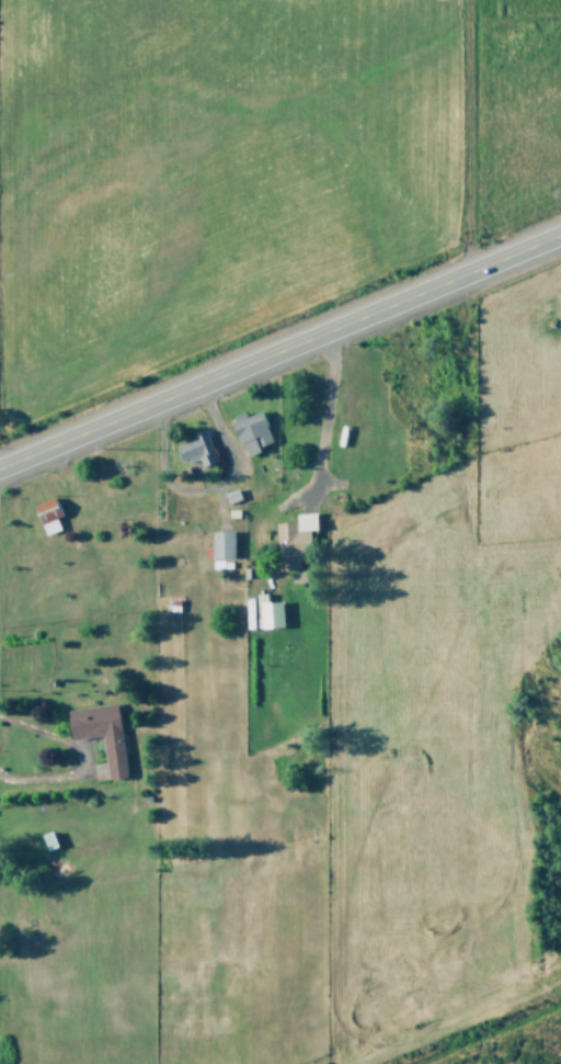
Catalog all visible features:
road: (280, 349)
road: (323, 411)
building: (250, 431)
building: (195, 449)
building: (47, 514)
building: (294, 543)
building: (222, 544)
building: (267, 612)
building: (100, 733)

